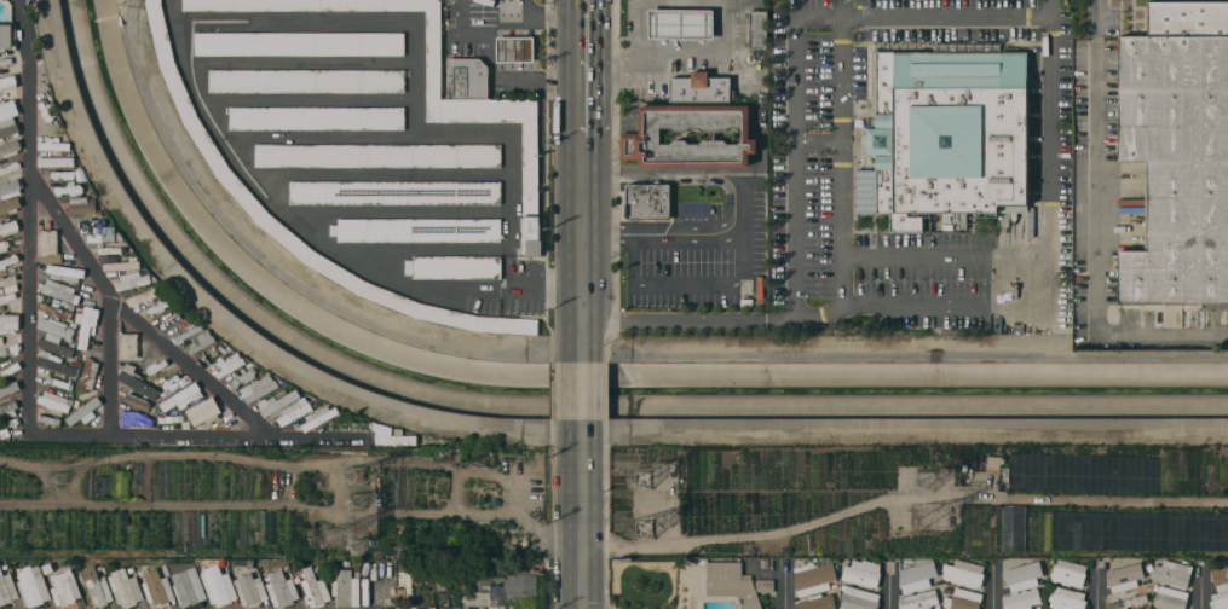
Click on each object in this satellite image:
road: (757, 4)
road: (923, 13)
road: (508, 16)
road: (547, 16)
road: (292, 19)
building: (681, 24)
gas station: (681, 24)
road: (635, 28)
building: (757, 29)
road: (759, 29)
road: (461, 34)
road: (501, 34)
building: (6, 36)
building: (299, 43)
building: (515, 50)
gas station: (515, 50)
road: (736, 54)
road: (682, 56)
building: (6, 60)
road: (300, 63)
road: (584, 69)
building: (467, 77)
road: (414, 79)
road: (515, 80)
building: (306, 81)
building: (8, 82)
building: (701, 88)
road: (307, 100)
building: (440, 100)
road: (1051, 101)
building: (46, 109)
building: (8, 118)
building: (316, 118)
building: (691, 134)
road: (463, 137)
building: (946, 137)
road: (319, 138)
road: (818, 140)
building: (54, 144)
building: (207, 146)
building: (10, 147)
building: (53, 152)
building: (1177, 153)
building: (375, 155)
road: (583, 157)
building: (57, 162)
road: (795, 166)
building: (11, 168)
road: (380, 173)
road: (742, 186)
building: (10, 188)
building: (70, 188)
building: (393, 192)
building: (646, 201)
building: (10, 205)
building: (81, 205)
road: (582, 207)
road: (396, 211)
road: (513, 214)
road: (28, 216)
building: (92, 222)
building: (97, 230)
building: (417, 230)
road: (1095, 232)
building: (103, 236)
road: (312, 236)
road: (605, 236)
building: (5, 245)
building: (50, 246)
road: (425, 246)
building: (114, 249)
road: (967, 256)
building: (8, 261)
road: (582, 265)
building: (121, 266)
building: (456, 267)
road: (842, 271)
building: (65, 273)
building: (6, 279)
building: (133, 279)
road: (682, 288)
building: (59, 291)
building: (146, 295)
building: (7, 296)
building: (163, 306)
building: (53, 311)
road: (136, 313)
building: (171, 320)
road: (691, 320)
building: (8, 323)
building: (85, 323)
building: (57, 327)
road: (582, 327)
building: (185, 333)
building: (202, 341)
building: (54, 344)
building: (128, 346)
building: (10, 349)
road: (110, 361)
building: (54, 362)
building: (230, 365)
building: (8, 369)
building: (158, 371)
building: (88, 375)
building: (136, 379)
building: (243, 379)
building: (57, 382)
building: (172, 383)
building: (8, 388)
building: (259, 388)
road: (582, 390)
building: (183, 398)
building: (54, 401)
building: (277, 401)
building: (138, 402)
building: (7, 410)
building: (203, 411)
building: (83, 412)
building: (295, 412)
building: (319, 417)
building: (134, 418)
building: (172, 418)
building: (347, 424)
building: (4, 431)
road: (151, 434)
building: (396, 439)
power tower: (359, 476)
power tower: (644, 476)
power tower: (64, 477)
power tower: (924, 477)
power tower: (359, 501)
road: (582, 514)
power tower: (927, 521)
building: (1013, 527)
power tower: (354, 528)
power tower: (644, 530)
building: (243, 565)
building: (754, 567)
building: (861, 573)
building: (963, 573)
building: (1068, 573)
building: (1172, 574)
building: (917, 575)
building: (1022, 575)
building: (407, 578)
building: (813, 578)
building: (1124, 578)
building: (731, 584)
building: (31, 585)
road: (786, 585)
road: (993, 585)
road: (1096, 585)
road: (1201, 585)
building: (97, 586)
building: (189, 586)
building: (219, 586)
building: (765, 586)
road: (888, 586)
building: (125, 587)
building: (156, 587)
building: (507, 587)
building: (7, 588)
building: (64, 588)
building: (282, 588)
building: (313, 588)
building: (346, 588)
building: (1220, 588)
building: (250, 590)
building: (858, 598)
building: (1169, 598)
building: (919, 599)
building: (964, 599)
building: (1067, 599)
building: (1125, 599)
building: (1020, 601)
building: (815, 602)
building: (421, 607)
building: (432, 608)
building: (466, 608)

